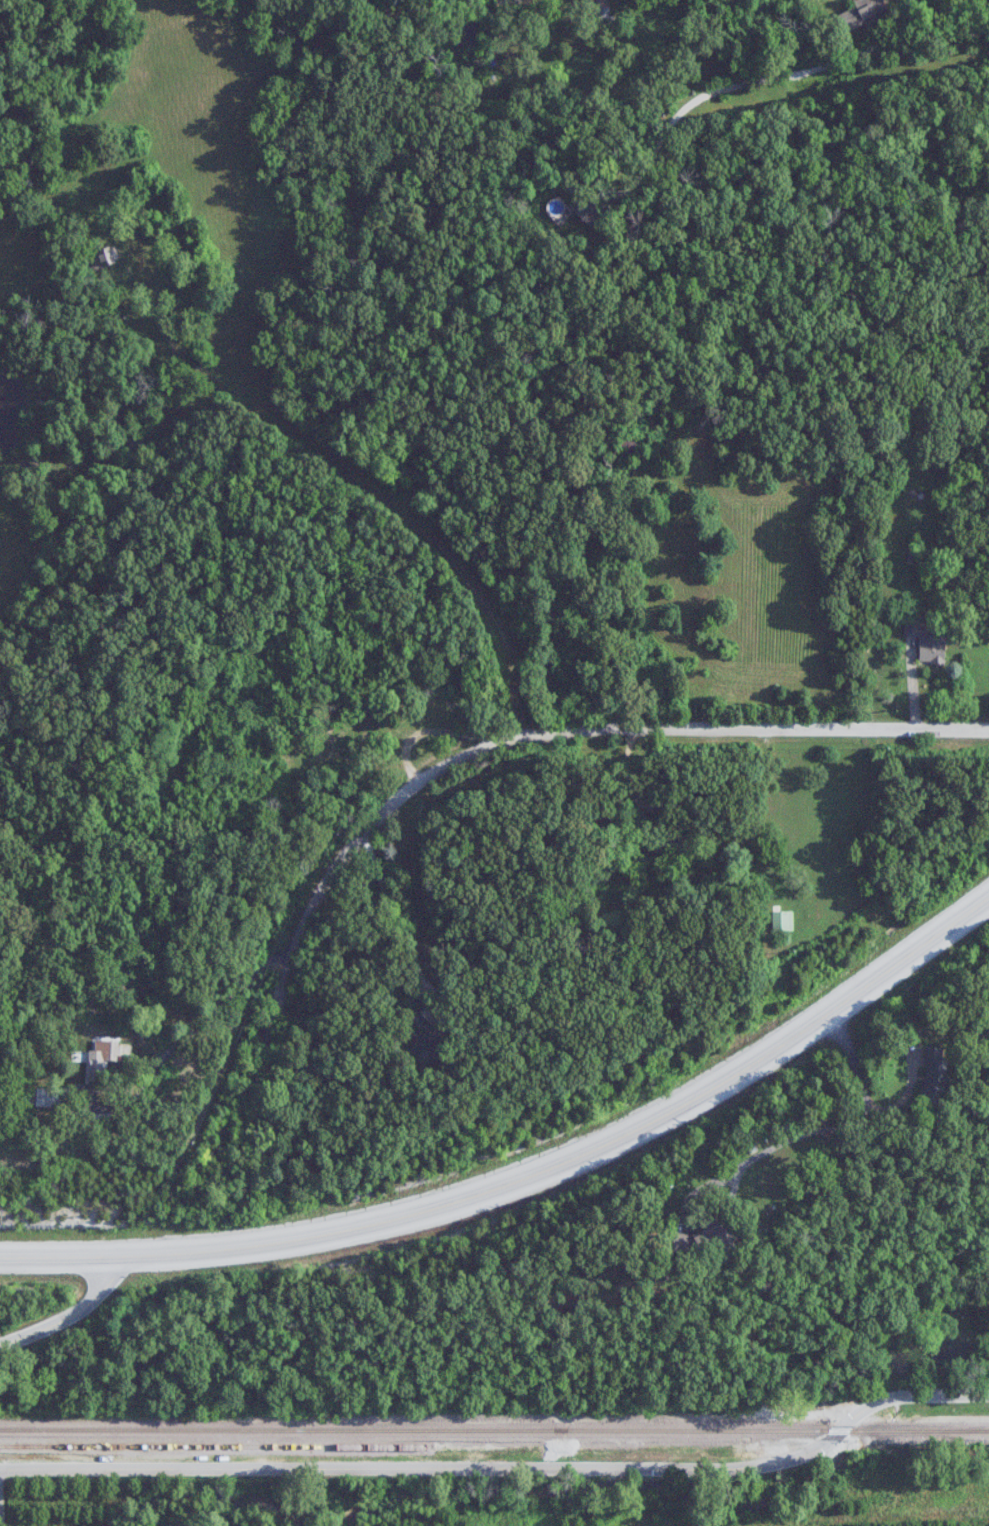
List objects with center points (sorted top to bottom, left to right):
building: (602, 11)
building: (864, 14)
road: (933, 14)
building: (593, 212)
building: (105, 255)
building: (631, 445)
road: (364, 478)
building: (928, 641)
building: (434, 702)
road: (545, 732)
building: (343, 744)
building: (670, 842)
road: (395, 917)
building: (783, 921)
road: (185, 1031)
building: (424, 1040)
building: (102, 1059)
building: (935, 1075)
building: (50, 1097)
road: (529, 1177)
building: (710, 1238)
road: (73, 1312)
railway: (494, 1429)
railway: (217, 1446)
road: (504, 1467)

